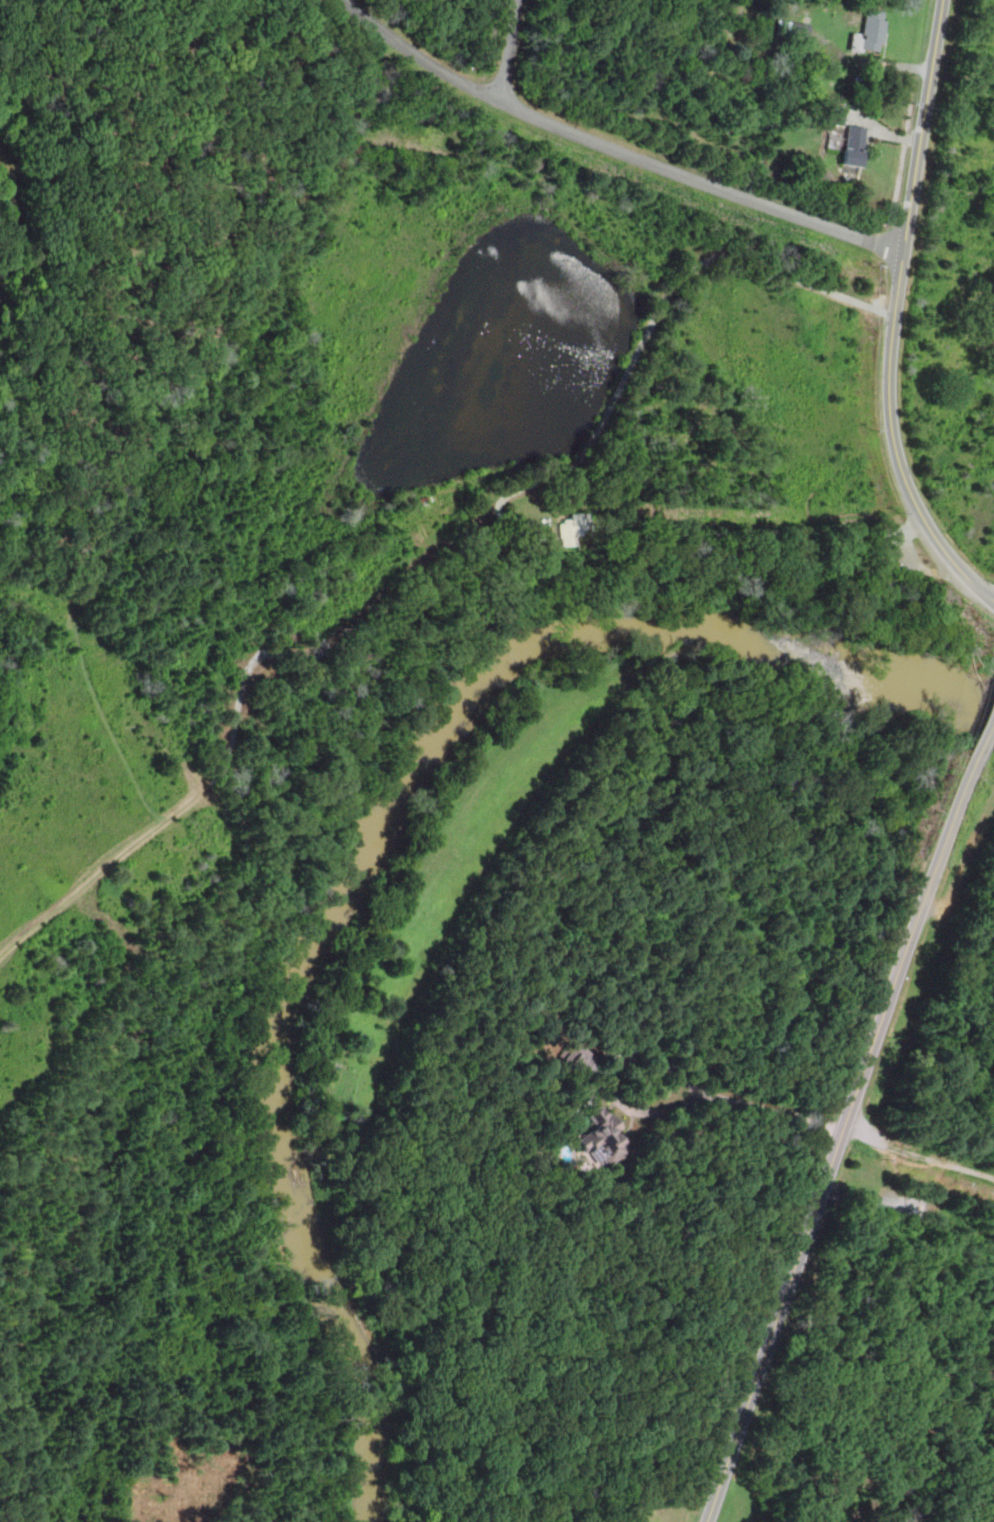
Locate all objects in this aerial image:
building: (792, 28)
building: (870, 33)
road: (507, 51)
building: (833, 116)
road: (25, 128)
road: (613, 147)
building: (855, 147)
river: (3, 214)
road: (92, 232)
road: (28, 259)
road: (901, 266)
road: (651, 334)
road: (176, 410)
building: (572, 528)
road: (911, 532)
road: (895, 550)
parking lot: (898, 552)
road: (958, 566)
road: (526, 608)
road: (308, 650)
park: (322, 688)
road: (983, 738)
road: (951, 826)
river: (376, 838)
road: (240, 850)
road: (965, 880)
road: (81, 889)
road: (941, 1031)
building: (580, 1058)
road: (670, 1063)
road: (980, 1113)
road: (992, 1118)
building: (601, 1136)
road: (916, 1155)
road: (866, 1198)
road: (816, 1202)
road: (254, 1220)

